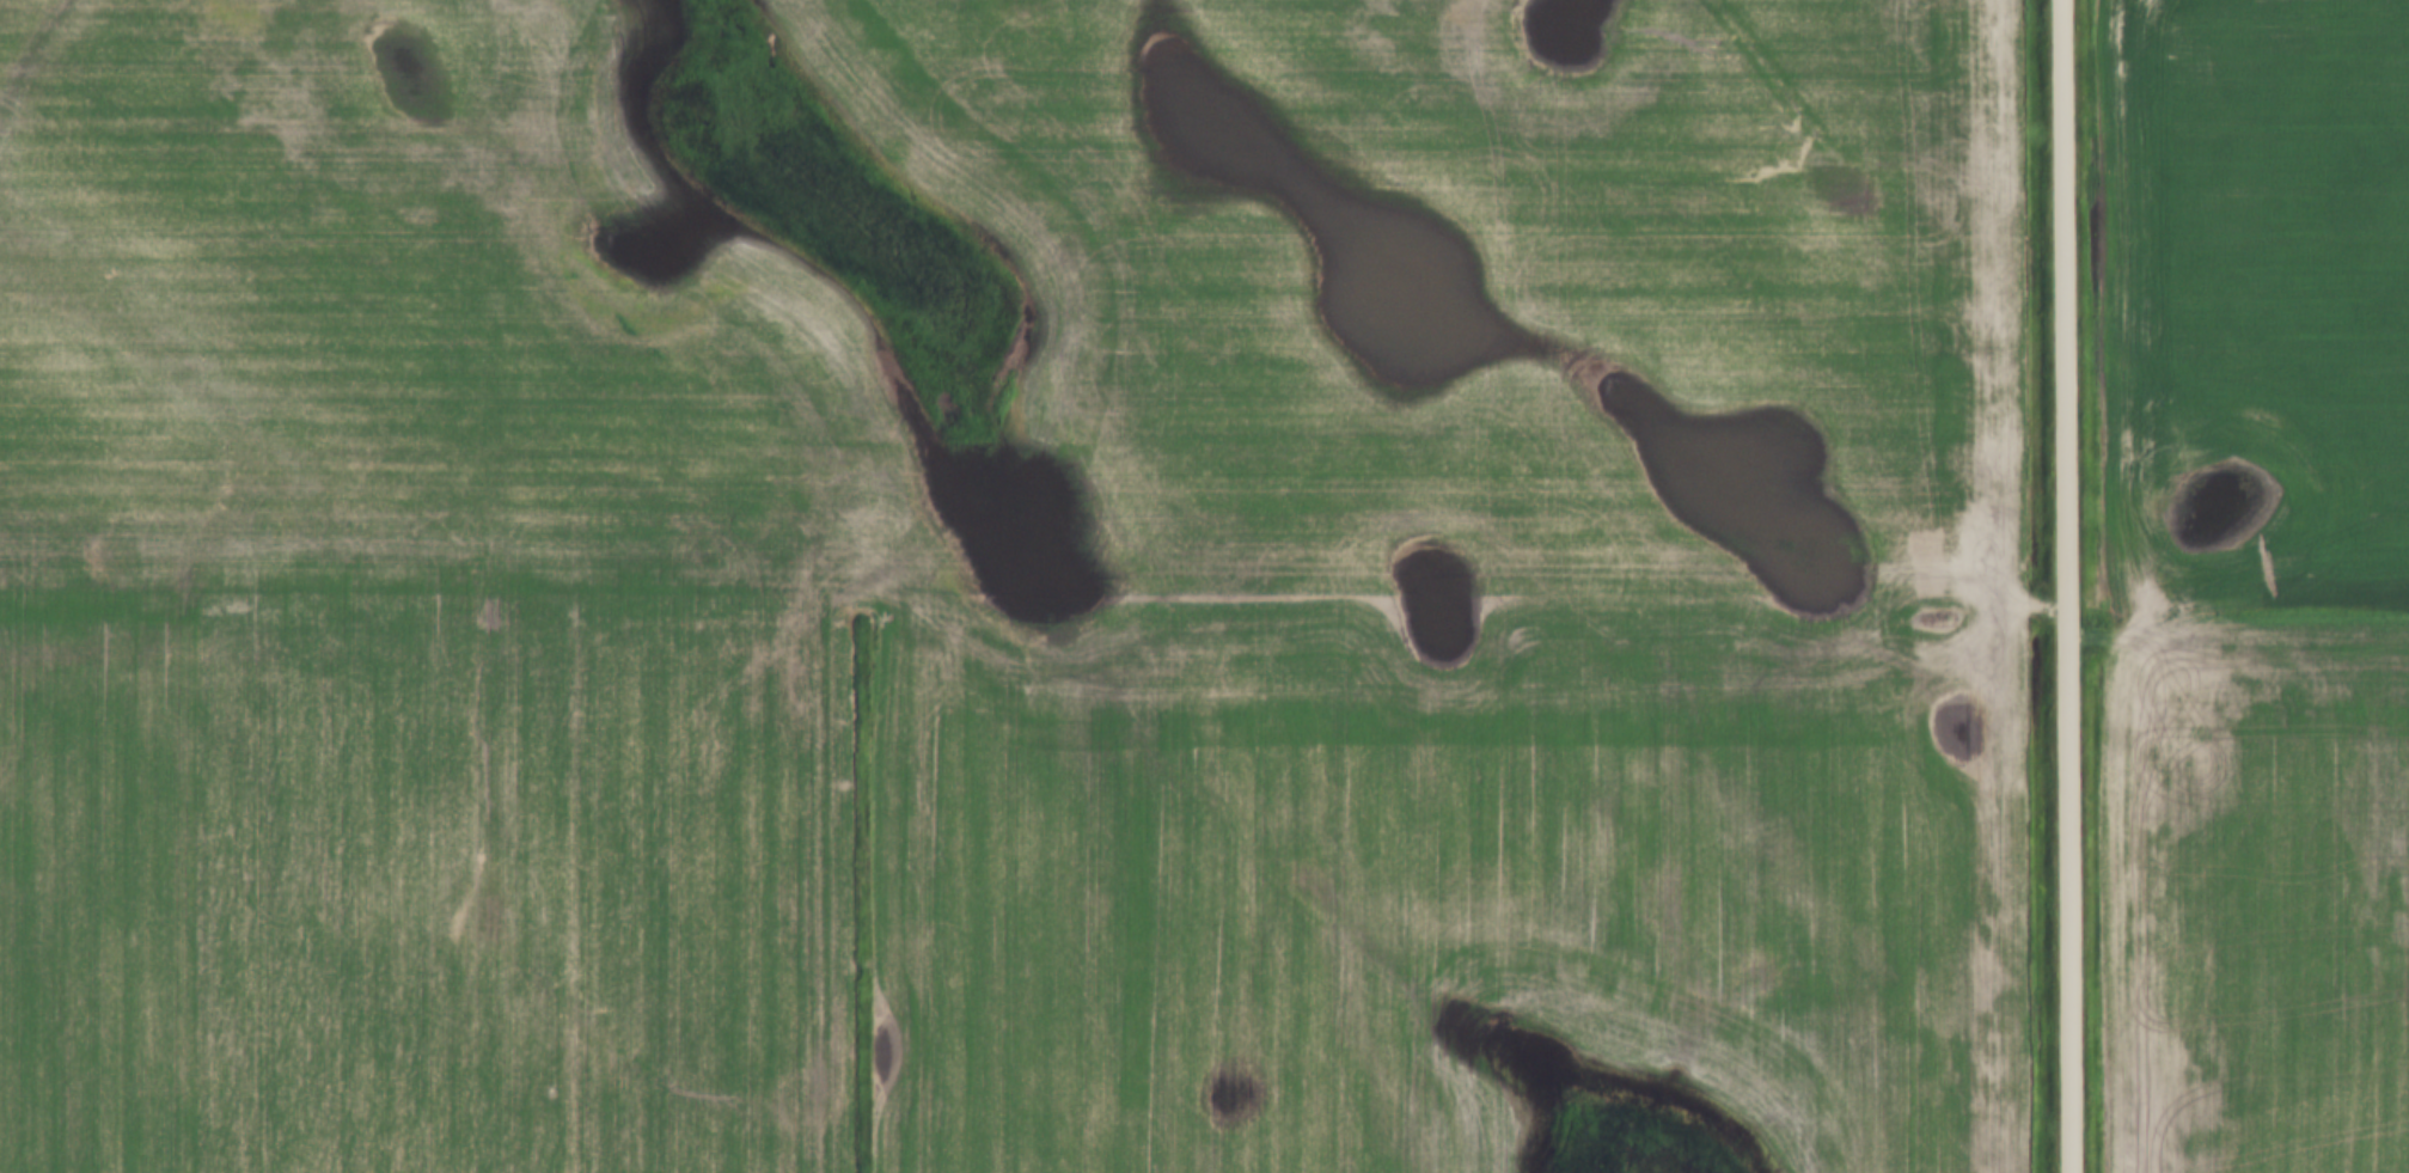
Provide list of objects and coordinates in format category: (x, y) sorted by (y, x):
road: (2063, 586)

